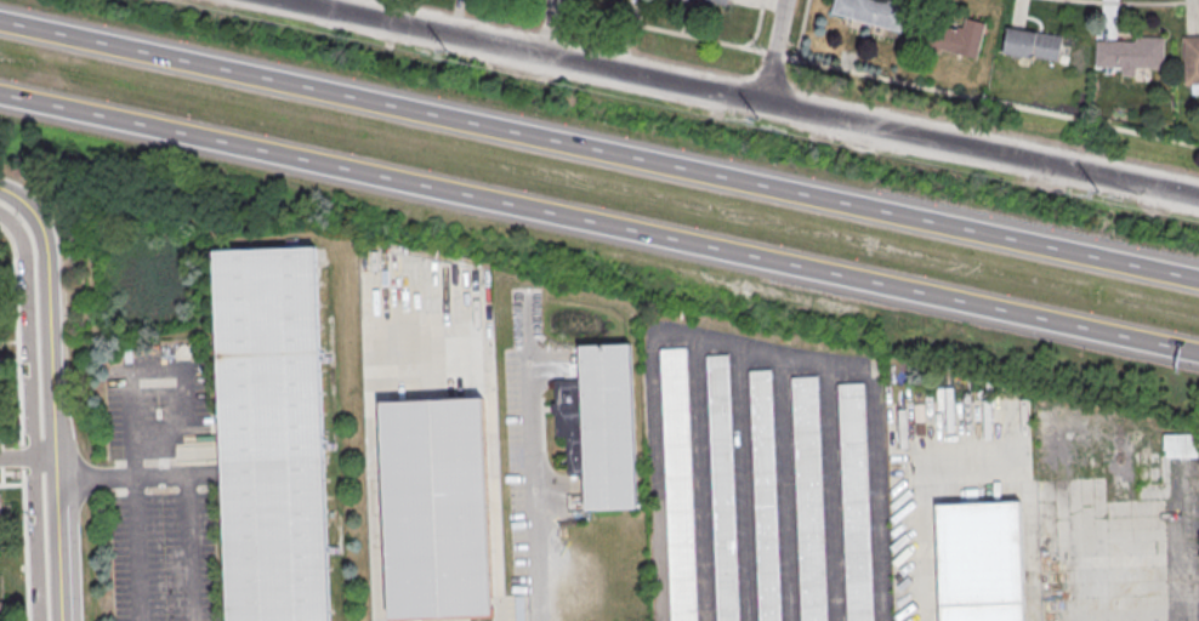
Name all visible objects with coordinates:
building: (717, 1)
building: (871, 11)
building: (961, 36)
power tower: (399, 41)
building: (1032, 44)
road: (771, 49)
building: (1130, 53)
building: (1191, 59)
road: (863, 72)
road: (750, 96)
power tower: (732, 114)
road: (598, 148)
power tower: (1058, 183)
road: (22, 203)
road: (599, 222)
road: (739, 344)
parking lot: (152, 400)
road: (29, 415)
road: (50, 422)
road: (18, 423)
building: (603, 428)
road: (131, 429)
road: (374, 433)
building: (277, 434)
building: (1180, 444)
road: (25, 457)
road: (10, 484)
building: (678, 484)
road: (1032, 484)
building: (723, 486)
road: (533, 490)
building: (766, 495)
building: (809, 498)
building: (854, 502)
building: (442, 507)
road: (133, 509)
building: (0, 519)
road: (187, 525)
parking lot: (160, 556)
building: (985, 562)
building: (0, 611)

